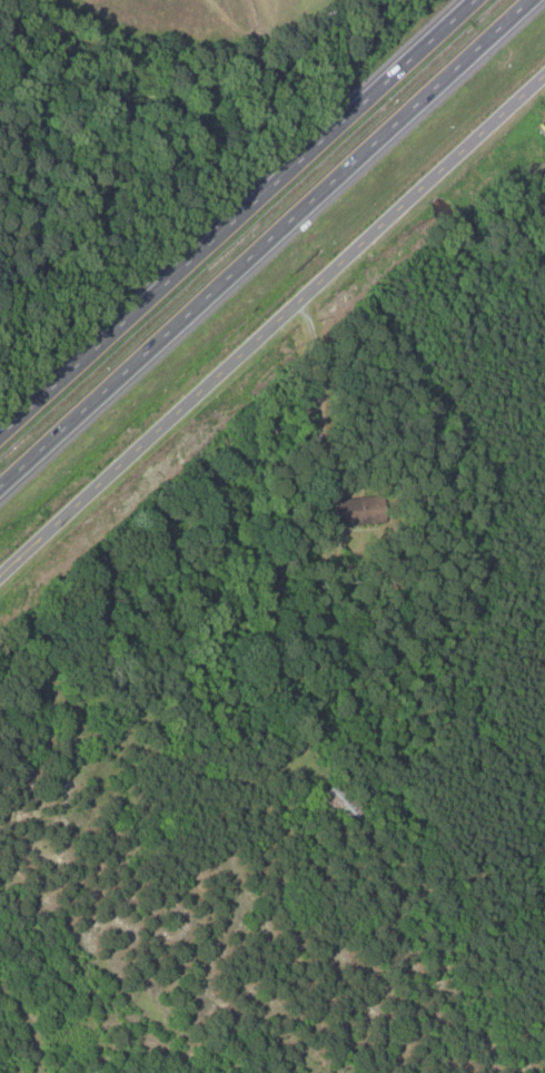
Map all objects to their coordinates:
park: (284, 13)
park: (160, 20)
road: (239, 217)
road: (267, 239)
road: (271, 321)

